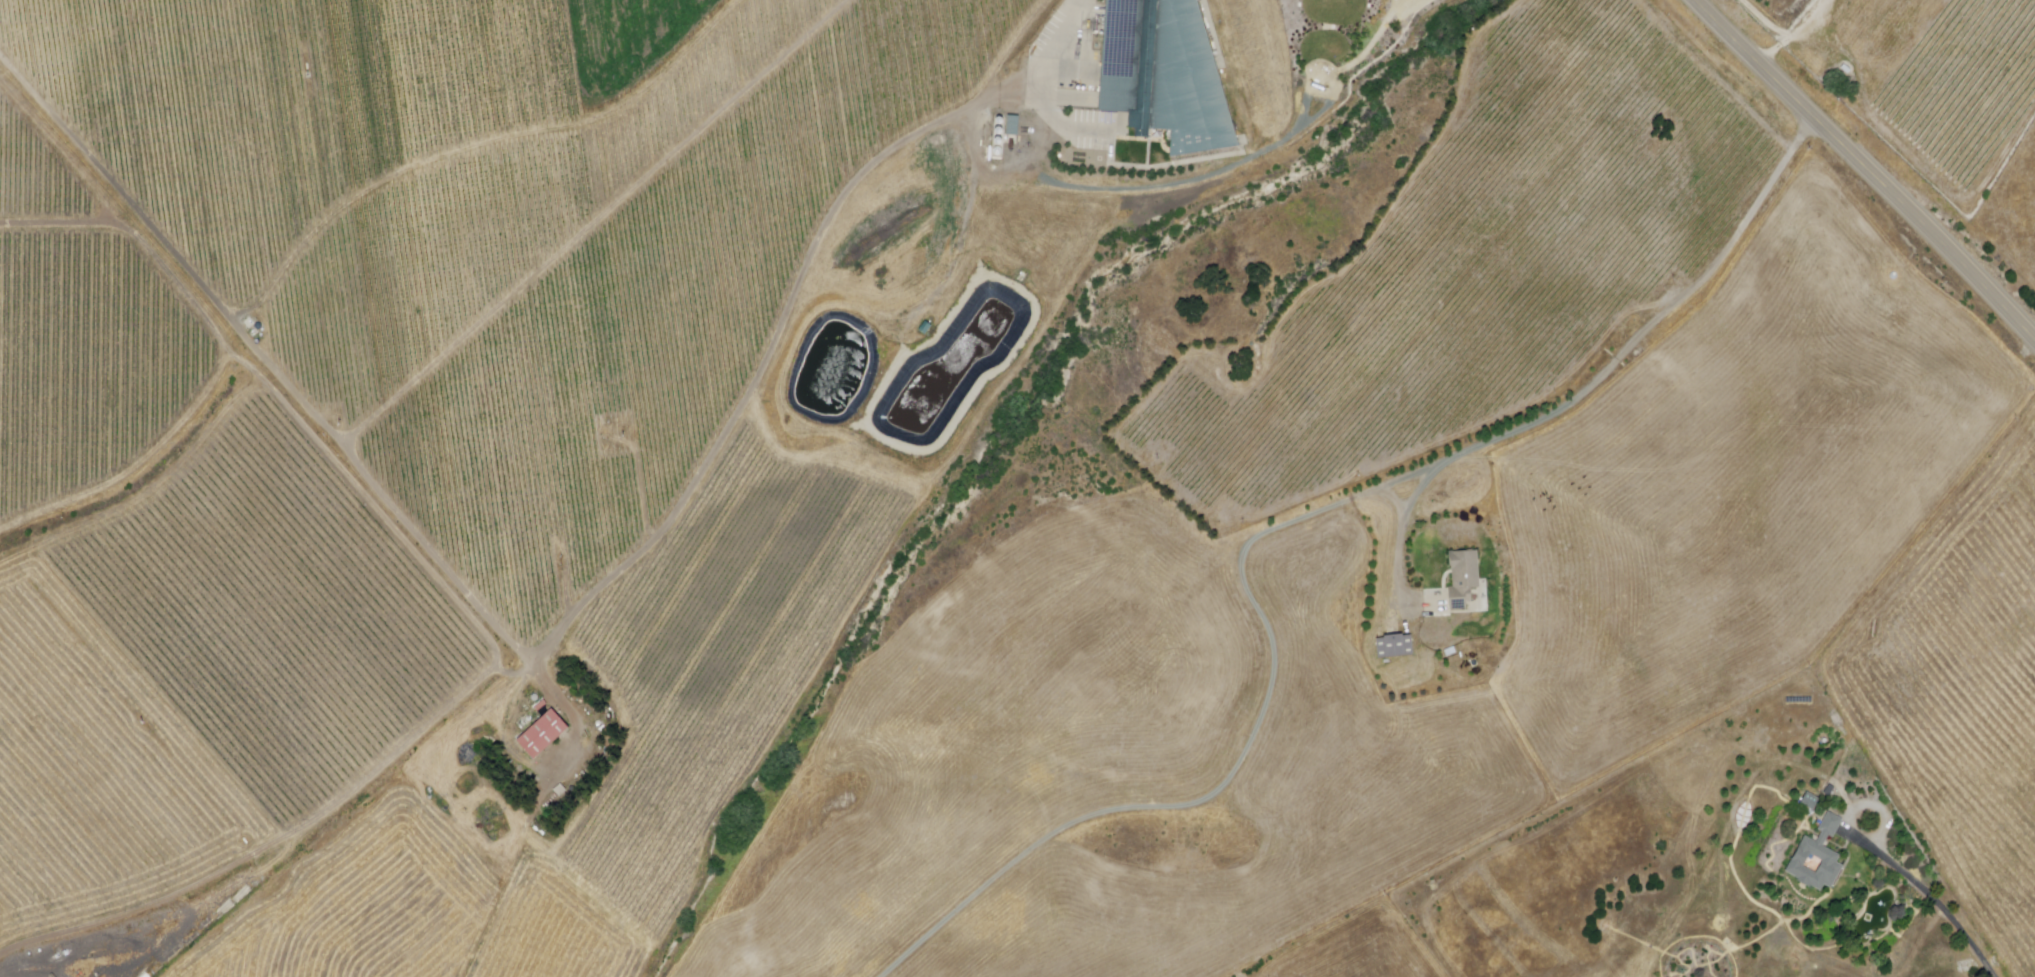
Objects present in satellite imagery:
road: (1050, 40)
building: (1163, 75)
road: (1867, 169)
road: (1667, 312)
road: (285, 383)
crop: (1740, 486)
road: (1404, 526)
building: (1463, 579)
building: (1396, 646)
crop: (1962, 695)
crop: (709, 719)
crop: (1010, 731)
building: (541, 735)
road: (1249, 744)
building: (1811, 802)
crop: (1268, 810)
building: (1819, 859)
road: (1930, 895)
crop: (1359, 949)

